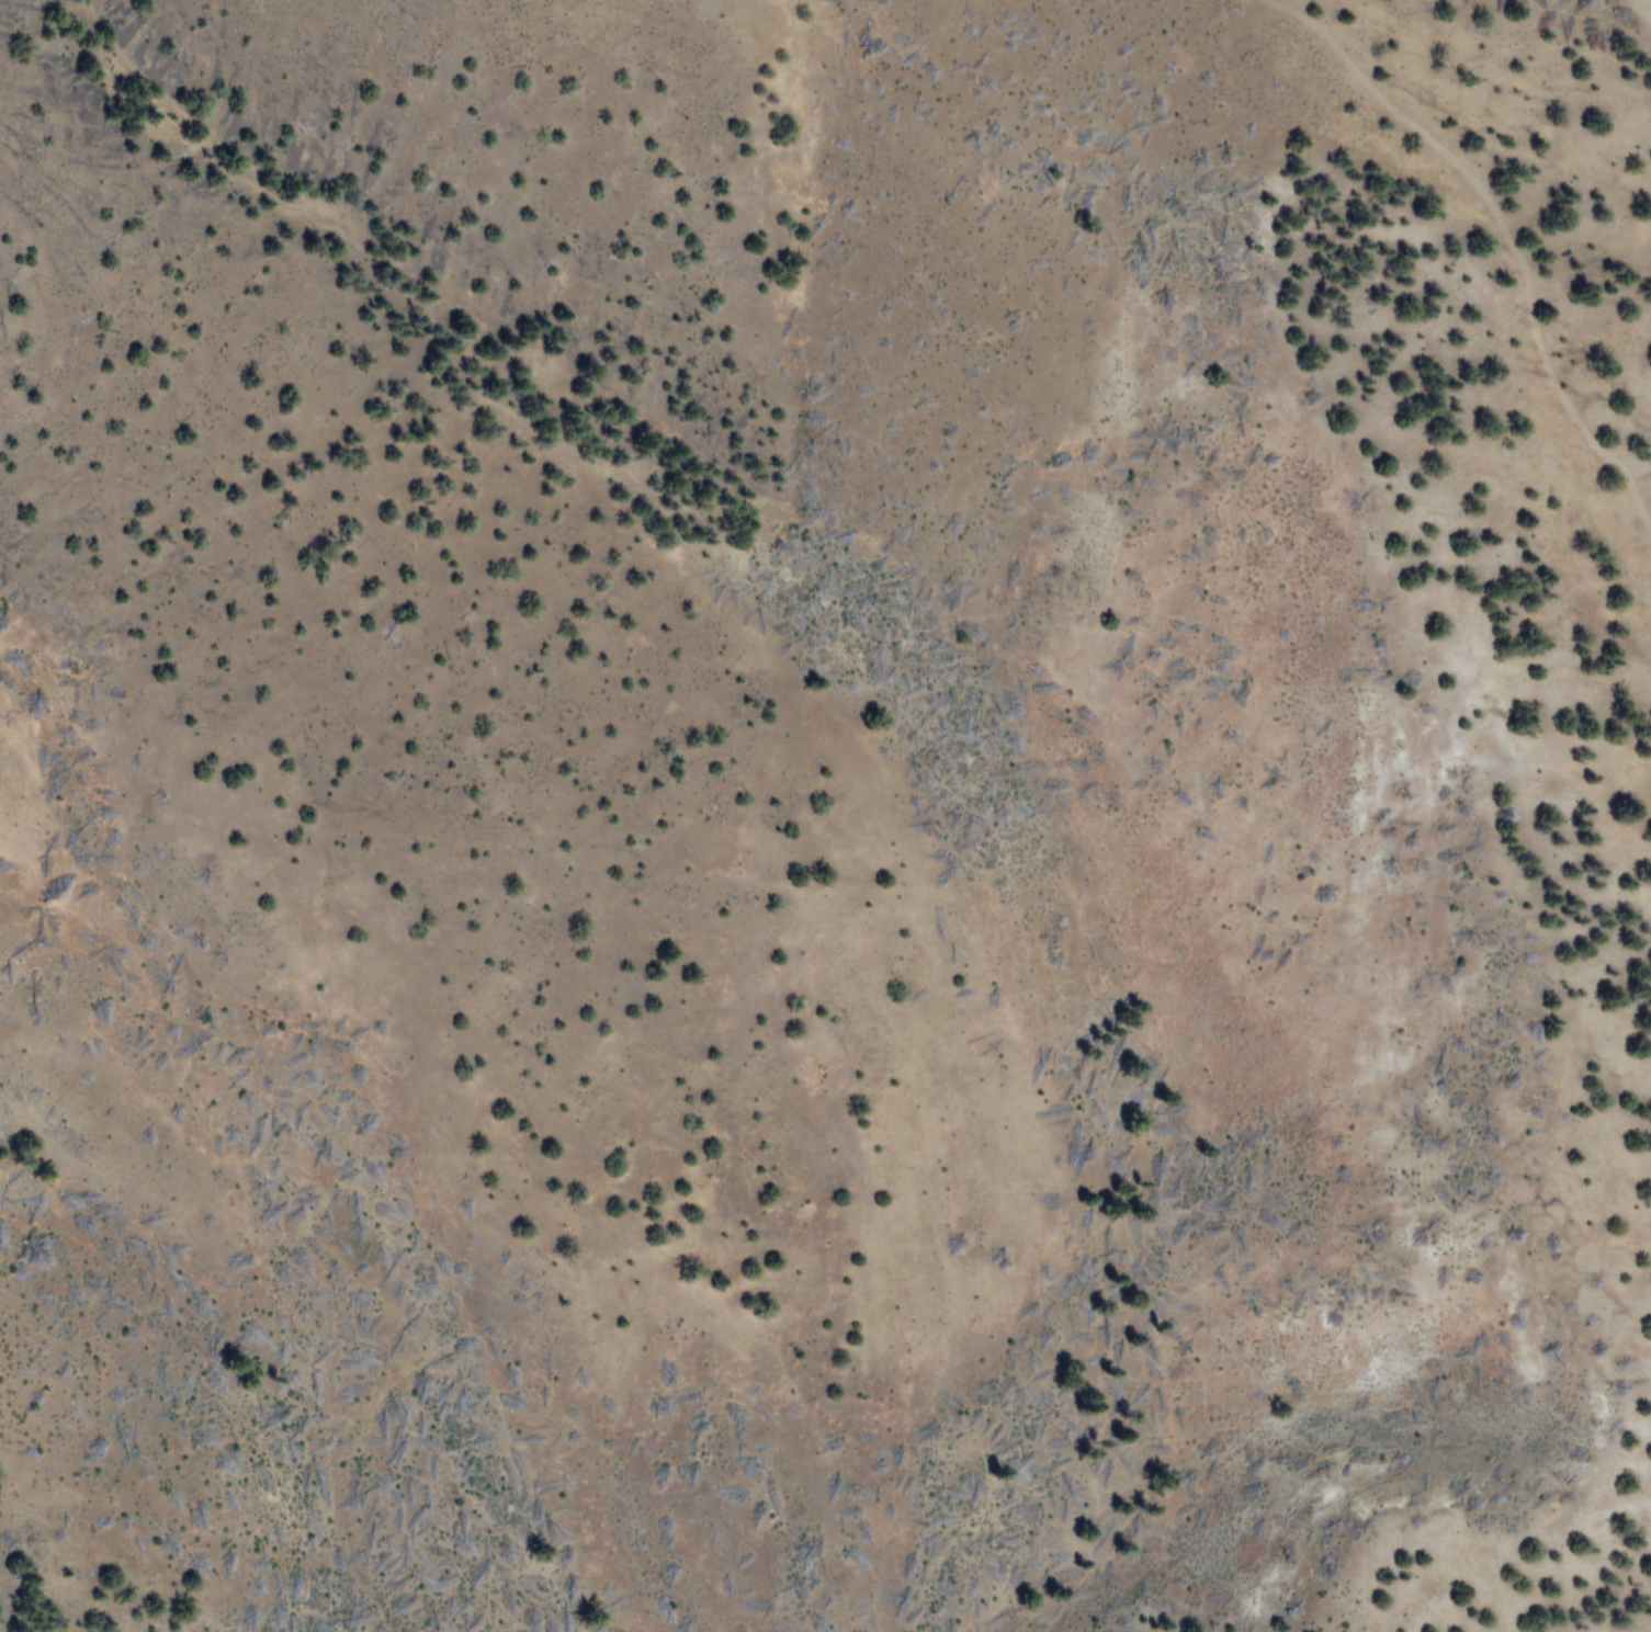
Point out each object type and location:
road: (1491, 240)

